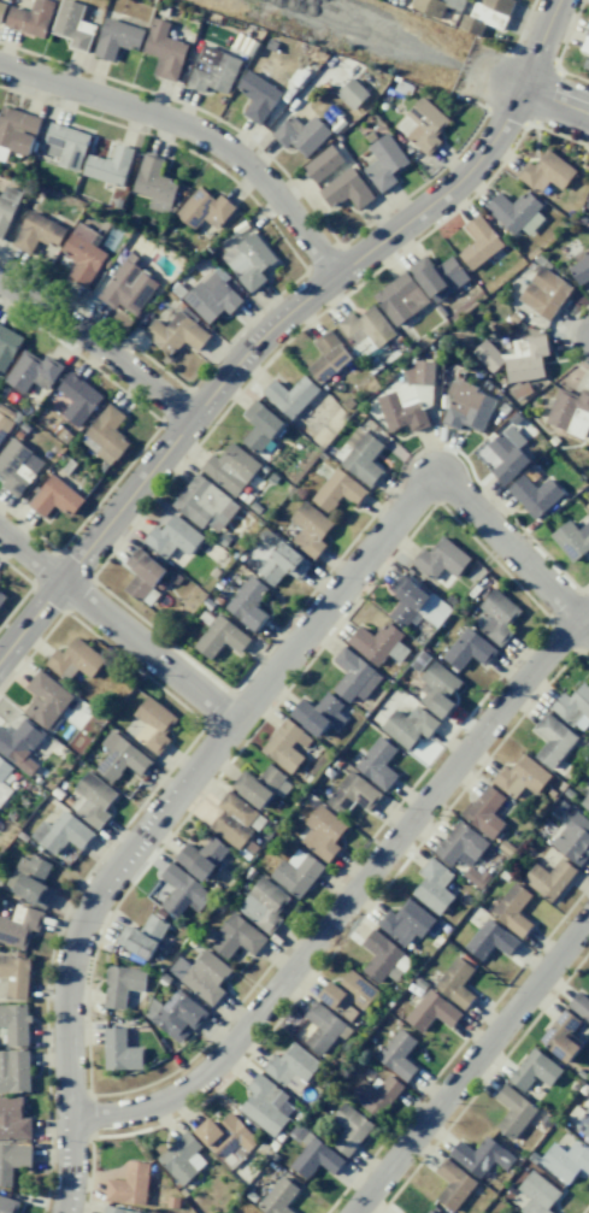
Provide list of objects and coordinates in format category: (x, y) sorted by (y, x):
building: (429, 6)
building: (1, 8)
building: (488, 14)
building: (30, 18)
building: (72, 24)
building: (587, 31)
building: (117, 37)
building: (585, 46)
building: (164, 51)
building: (585, 63)
building: (212, 70)
building: (351, 93)
building: (257, 96)
road: (554, 100)
building: (422, 125)
building: (17, 130)
road: (194, 133)
building: (301, 134)
building: (65, 145)
building: (384, 161)
building: (323, 164)
building: (108, 166)
building: (546, 172)
building: (154, 184)
building: (346, 189)
building: (587, 204)
building: (6, 207)
building: (204, 210)
building: (516, 212)
building: (37, 232)
building: (479, 243)
building: (82, 254)
building: (249, 260)
building: (581, 270)
building: (438, 277)
building: (128, 287)
building: (544, 293)
building: (212, 298)
building: (400, 299)
road: (279, 324)
building: (366, 328)
building: (176, 332)
building: (7, 346)
road: (99, 348)
building: (328, 357)
building: (517, 358)
building: (31, 371)
building: (419, 372)
building: (289, 395)
building: (77, 399)
building: (467, 406)
building: (406, 407)
building: (570, 412)
building: (4, 425)
building: (260, 425)
building: (105, 435)
building: (507, 454)
building: (363, 457)
building: (17, 466)
building: (230, 469)
building: (338, 490)
building: (535, 495)
building: (54, 497)
building: (205, 504)
building: (310, 529)
building: (173, 540)
building: (572, 540)
road: (511, 555)
building: (440, 559)
building: (283, 564)
building: (142, 573)
building: (1, 595)
building: (414, 602)
building: (248, 603)
building: (497, 616)
road: (118, 629)
building: (220, 637)
building: (378, 643)
building: (467, 649)
building: (75, 660)
building: (354, 676)
building: (438, 689)
building: (46, 699)
building: (575, 707)
building: (318, 714)
building: (154, 724)
building: (407, 726)
building: (552, 740)
building: (20, 744)
building: (287, 746)
building: (120, 758)
building: (377, 762)
building: (2, 775)
building: (520, 777)
building: (258, 785)
building: (352, 794)
building: (93, 799)
building: (585, 802)
building: (484, 811)
road: (165, 813)
building: (232, 819)
building: (63, 832)
building: (323, 832)
building: (573, 840)
building: (460, 844)
building: (200, 856)
building: (296, 872)
building: (548, 878)
building: (30, 879)
building: (432, 885)
building: (181, 891)
road: (351, 900)
building: (264, 903)
building: (512, 909)
building: (406, 921)
building: (19, 925)
building: (142, 936)
building: (236, 937)
building: (490, 940)
building: (383, 958)
building: (201, 974)
building: (16, 976)
building: (455, 982)
building: (122, 984)
building: (347, 995)
building: (579, 1006)
building: (431, 1012)
building: (175, 1015)
building: (14, 1024)
building: (322, 1027)
building: (561, 1036)
building: (119, 1050)
building: (397, 1054)
building: (290, 1065)
road: (473, 1070)
building: (535, 1070)
building: (13, 1071)
building: (376, 1094)
building: (266, 1105)
building: (513, 1111)
building: (13, 1119)
building: (583, 1125)
building: (349, 1129)
building: (226, 1136)
building: (316, 1156)
building: (481, 1156)
building: (182, 1158)
building: (12, 1160)
building: (565, 1160)
building: (129, 1184)
building: (453, 1184)
building: (537, 1194)
building: (278, 1196)
building: (7, 1205)
building: (116, 1209)

